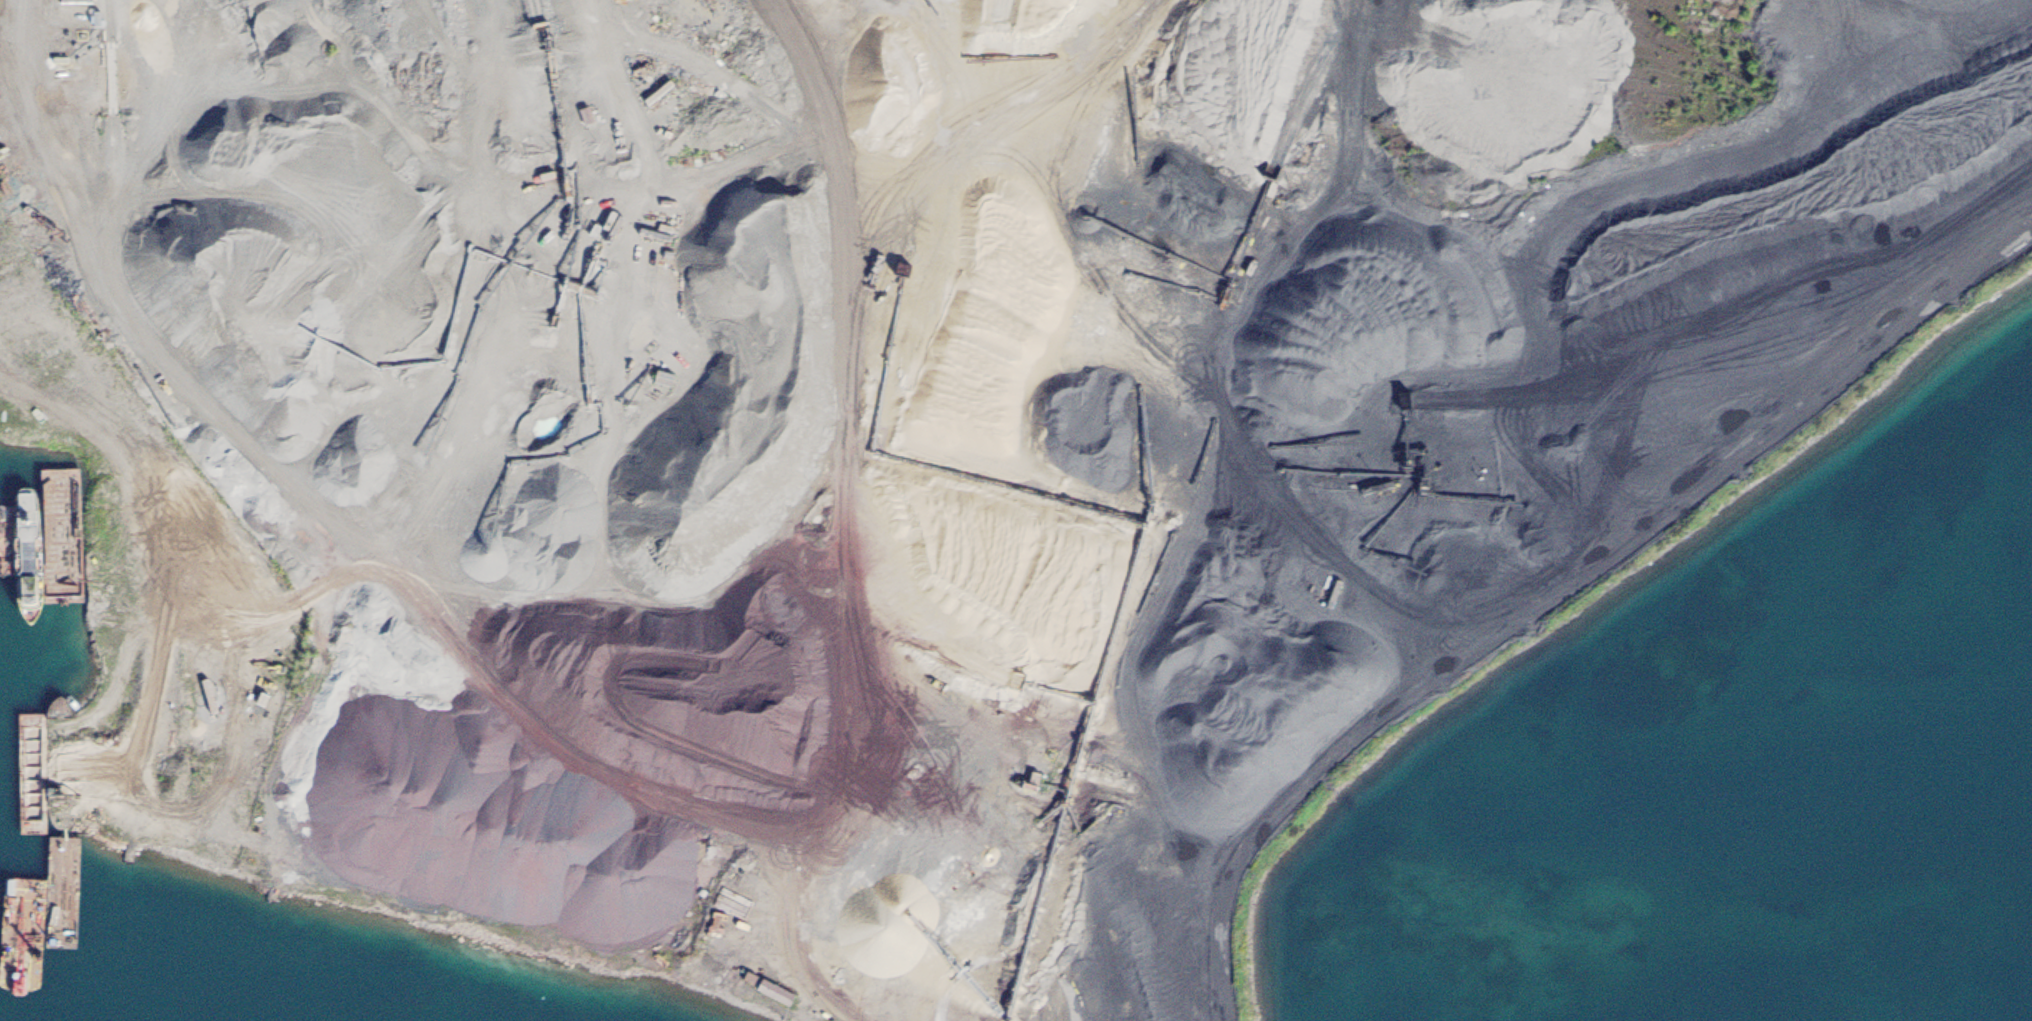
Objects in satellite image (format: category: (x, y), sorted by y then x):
building: (57, 516)
quarry: (721, 584)
building: (23, 676)

